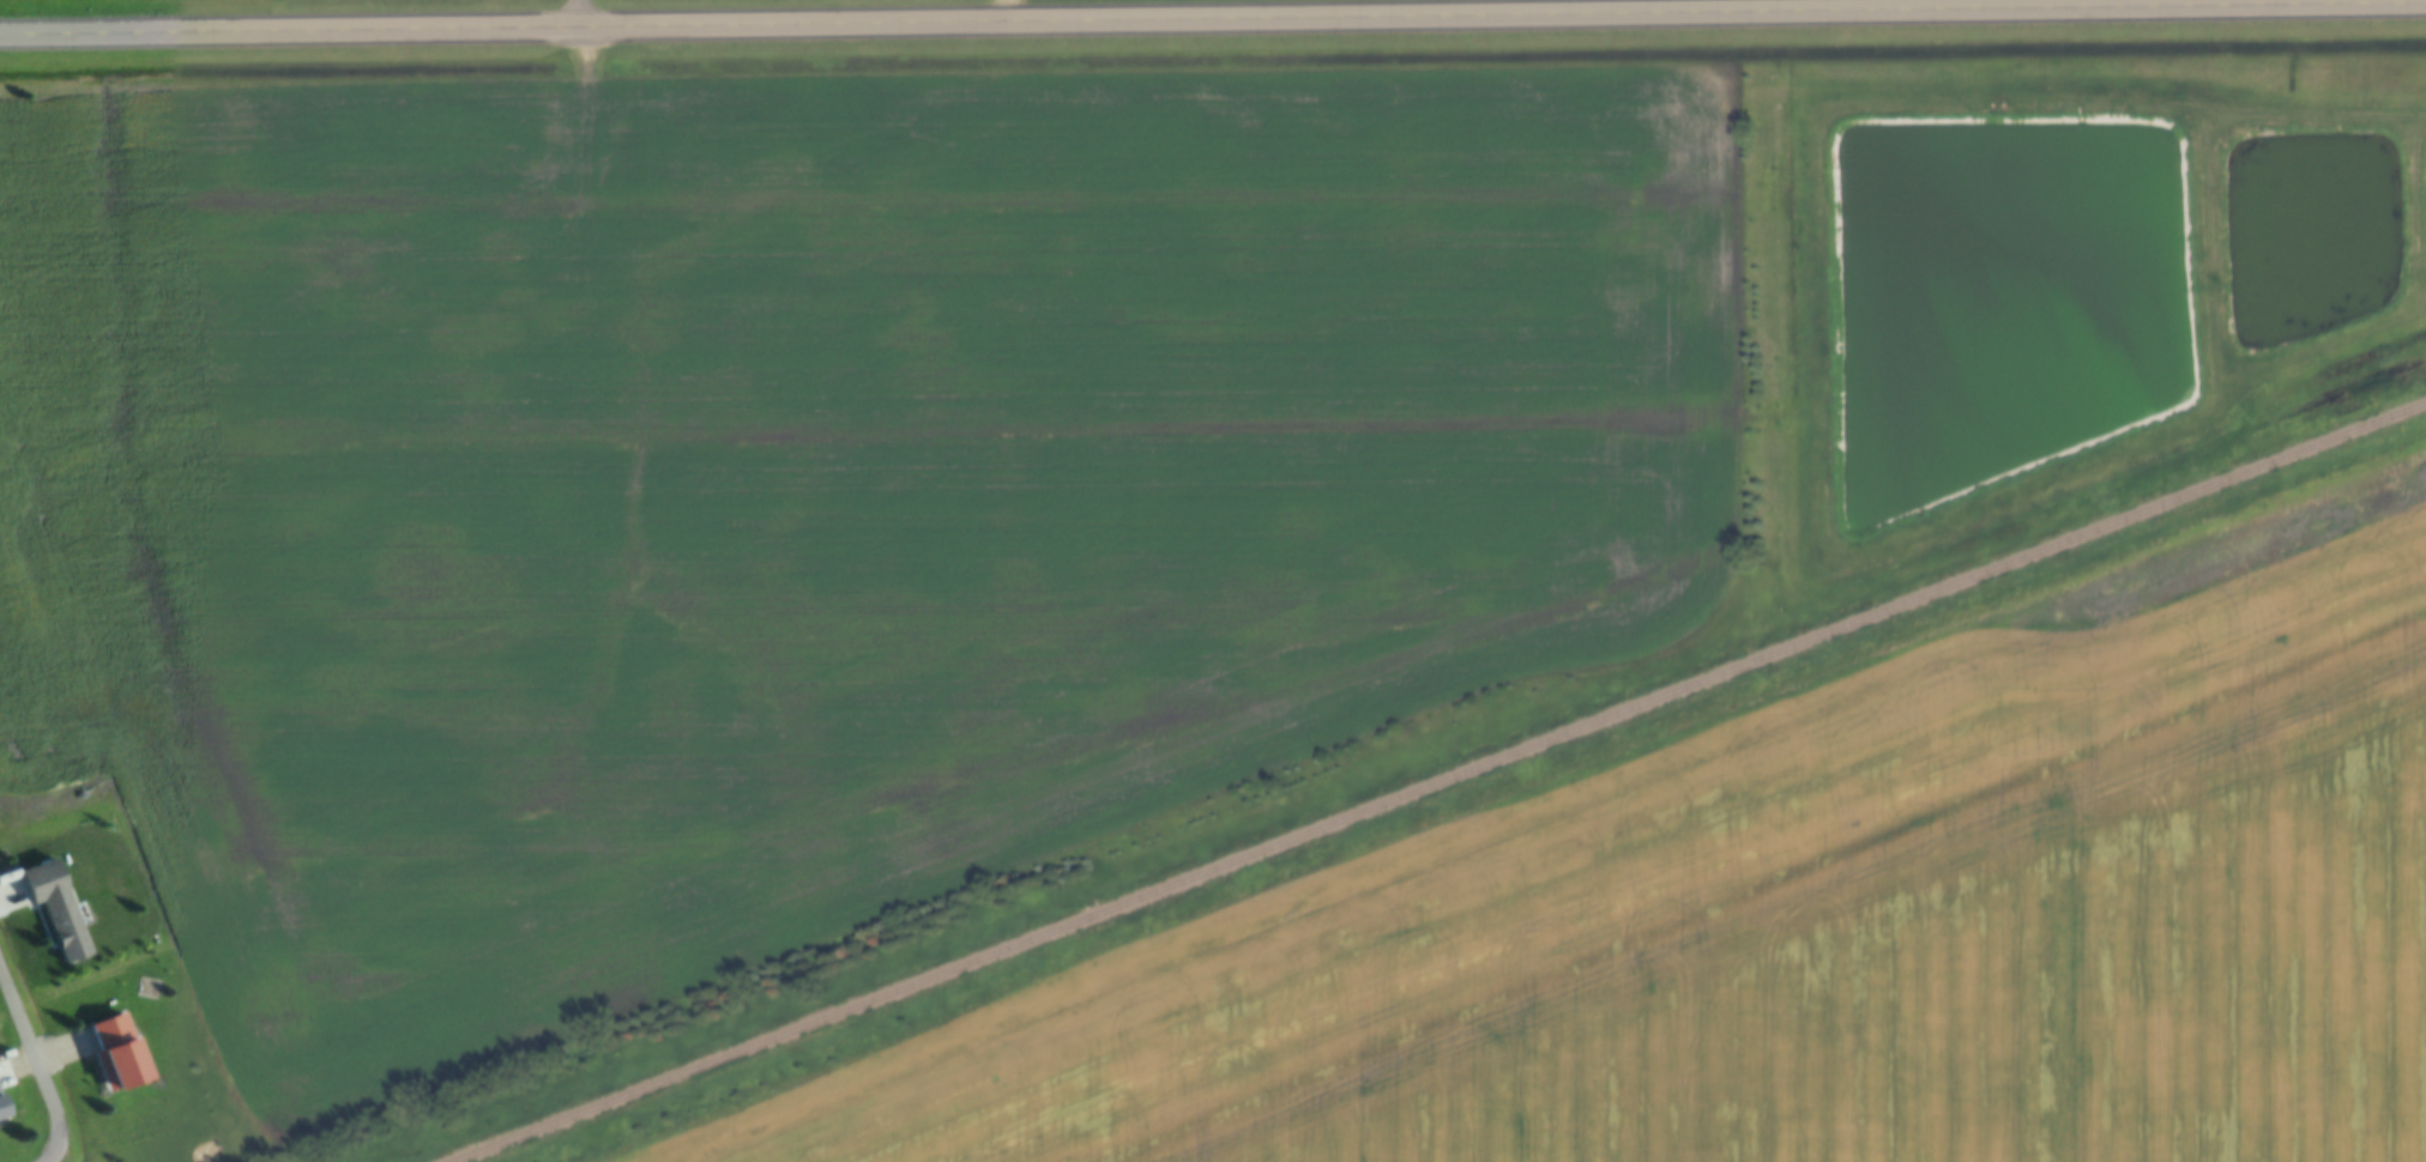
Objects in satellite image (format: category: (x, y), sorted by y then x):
road: (1012, 10)
road: (586, 12)
road: (1213, 17)
crop: (799, 491)
railway: (1438, 782)
crop: (1812, 924)
road: (37, 1051)
building: (114, 1054)
building: (1, 1110)
road: (59, 1155)

